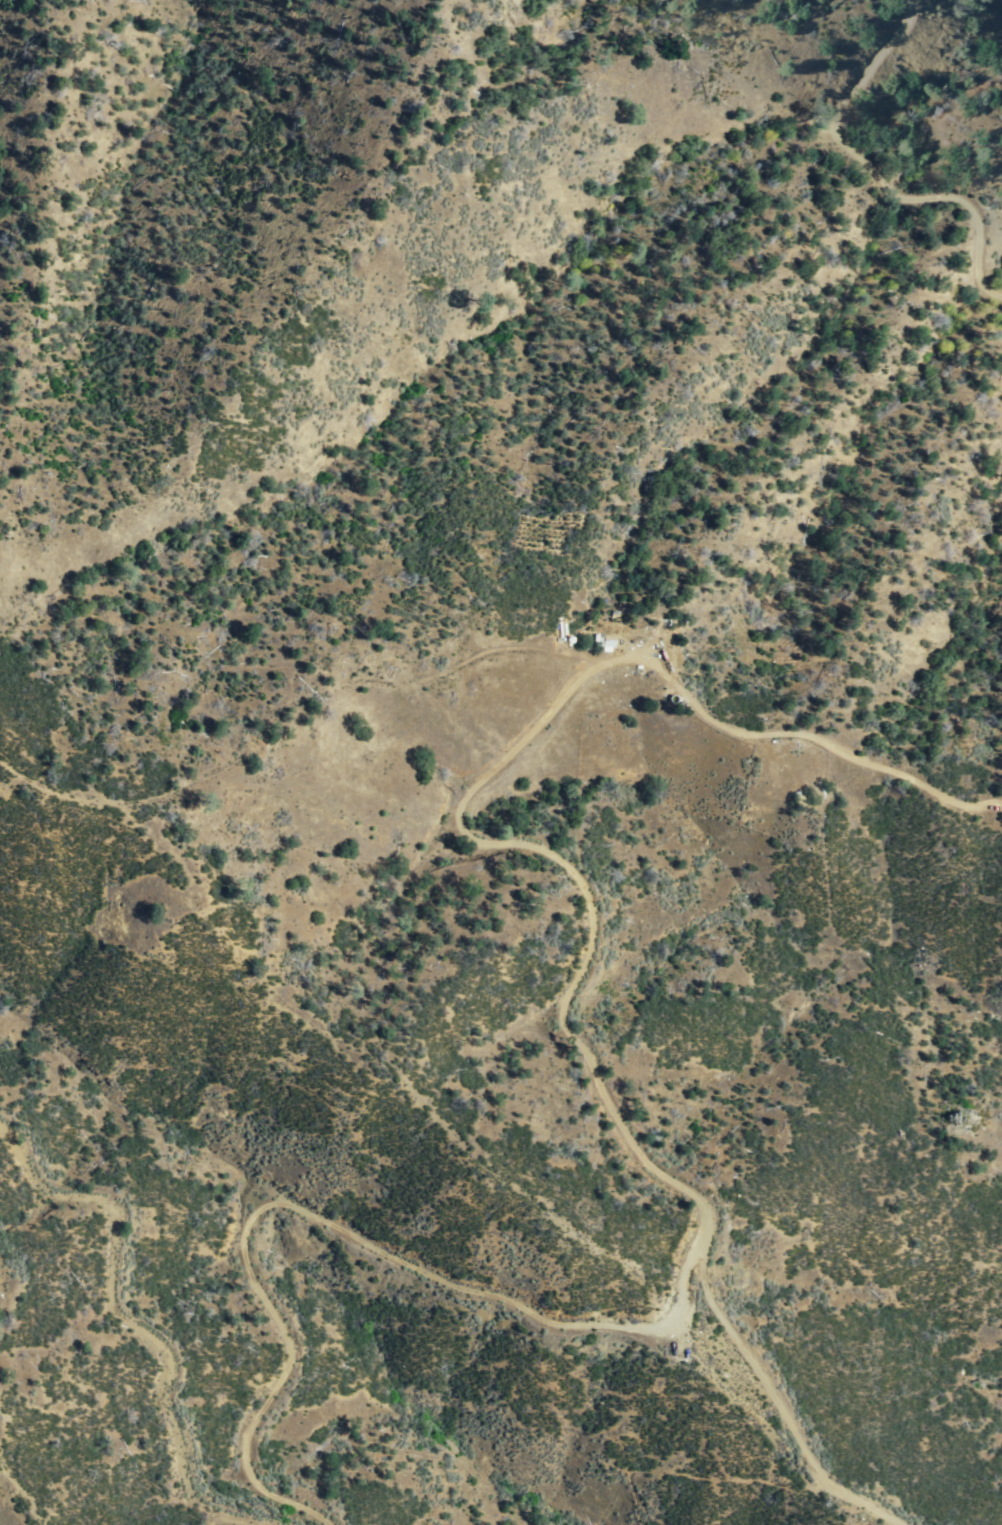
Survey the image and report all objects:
road: (773, 1415)

